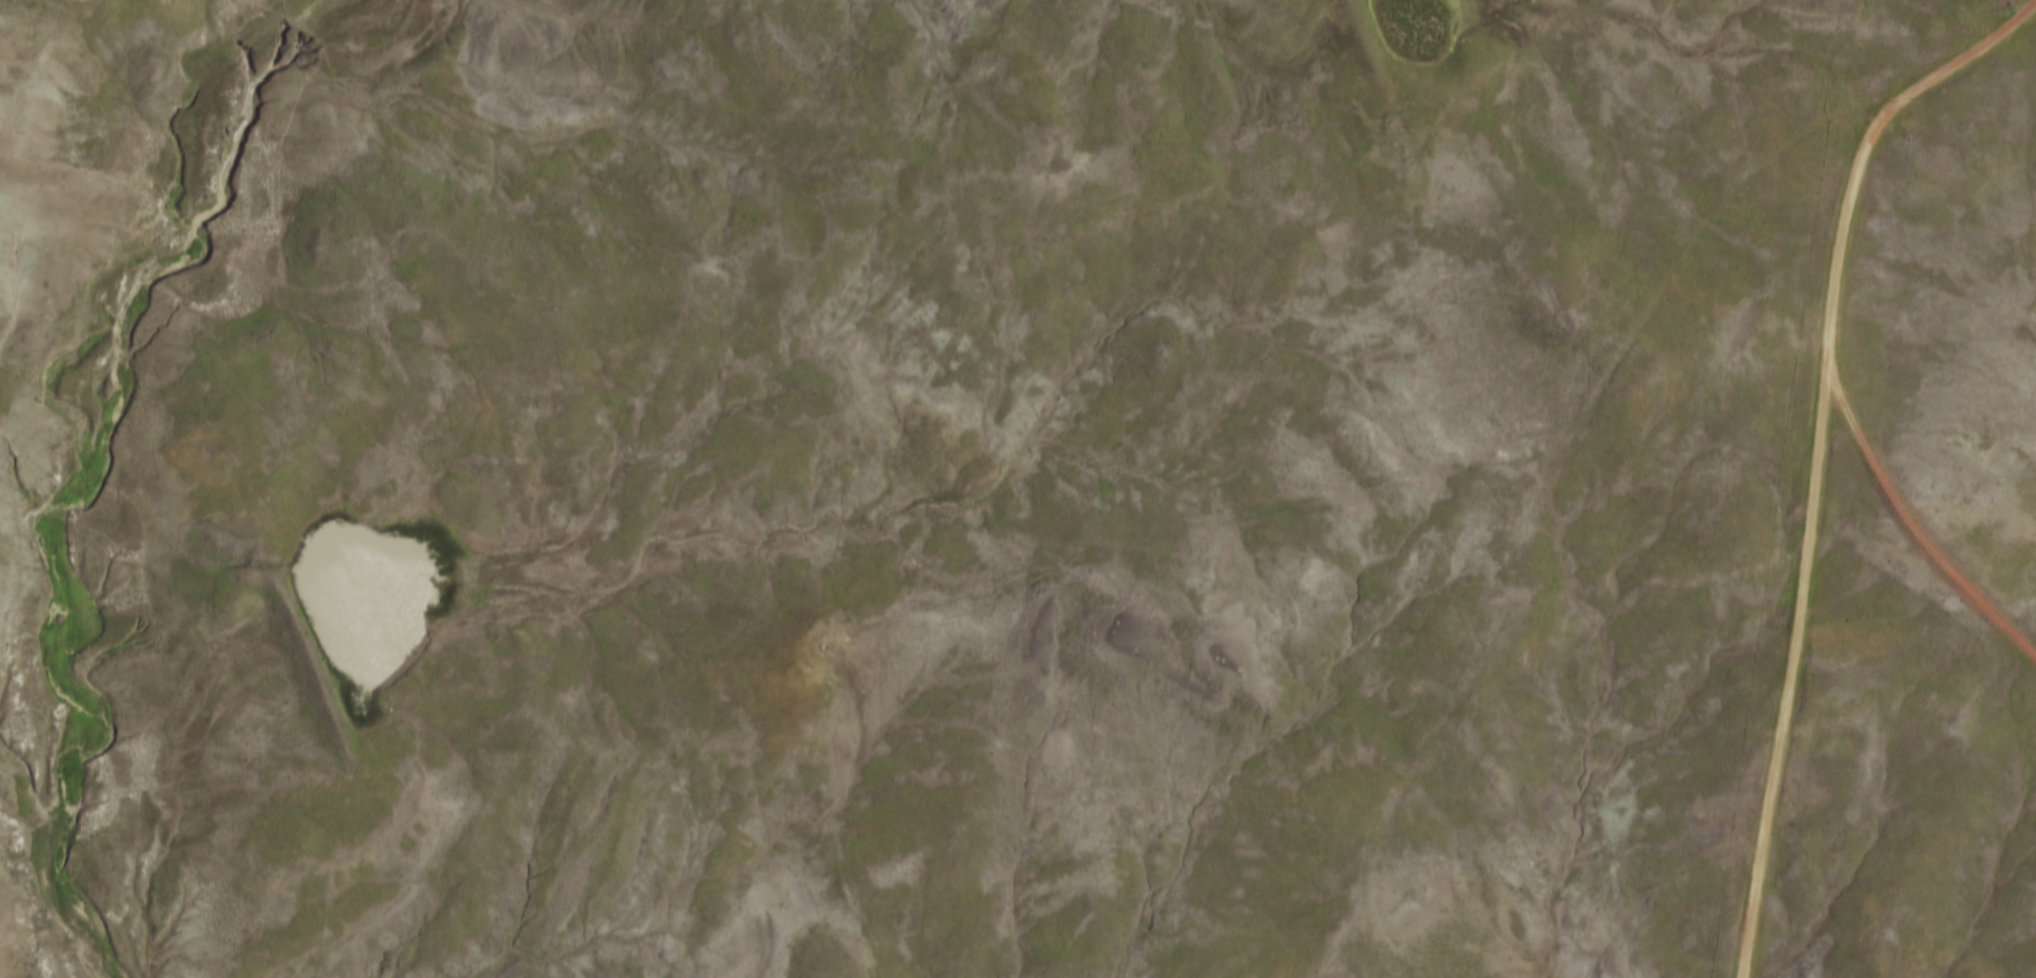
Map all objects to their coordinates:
road: (1830, 323)
road: (1790, 680)

